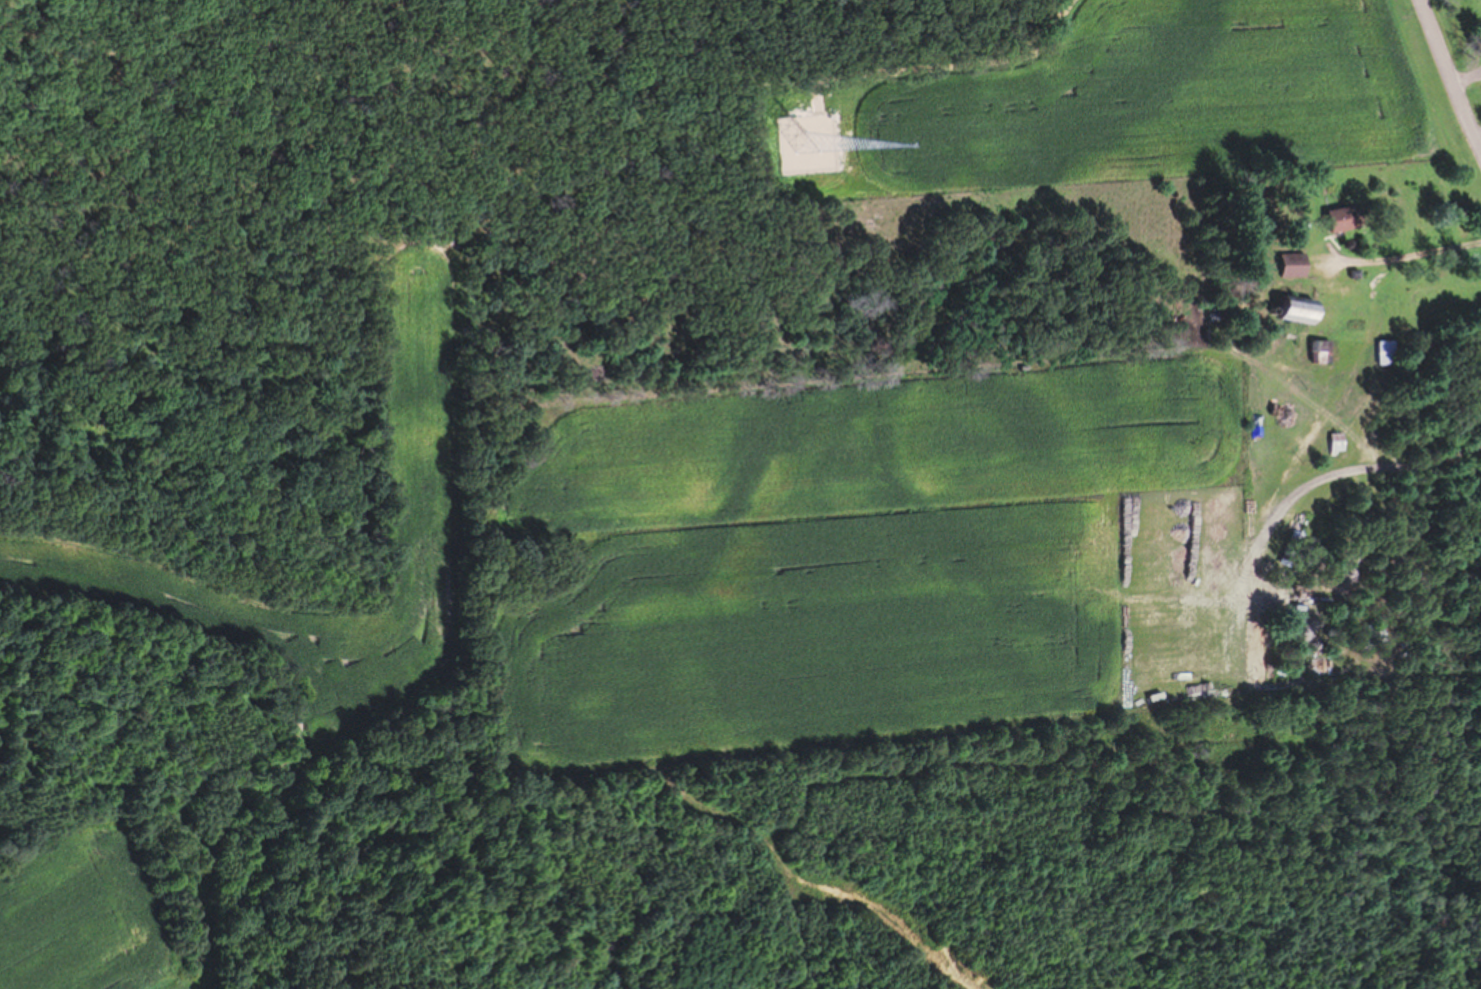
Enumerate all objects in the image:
road: (1448, 77)
building: (1349, 221)
road: (1401, 254)
building: (1300, 267)
building: (1309, 313)
building: (1326, 354)
building: (1391, 355)
building: (1343, 445)

